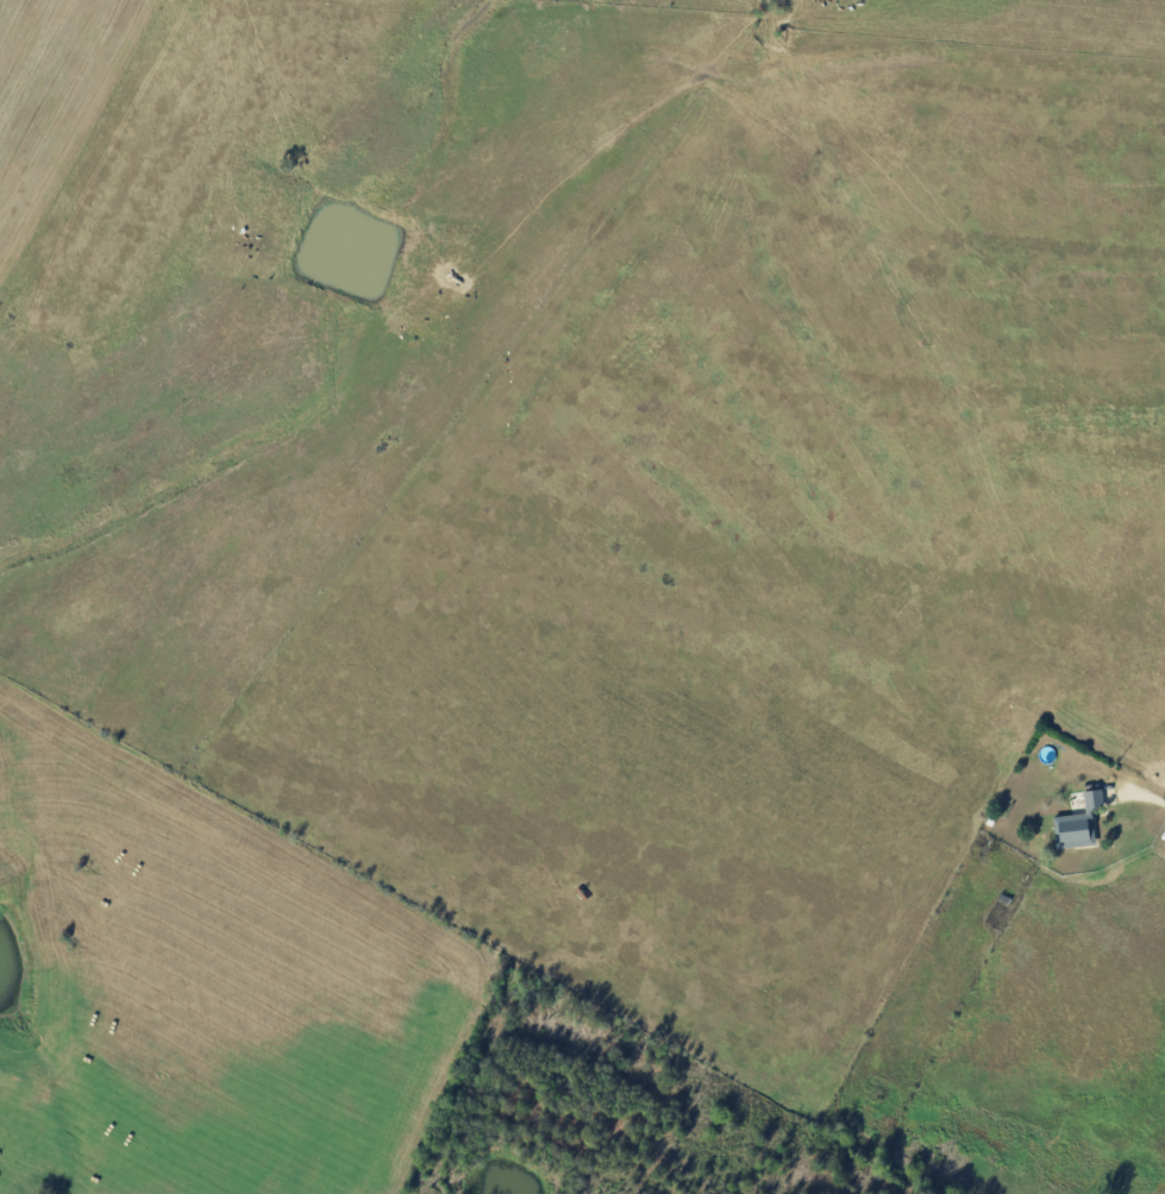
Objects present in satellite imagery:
road: (1145, 798)
building: (1079, 822)

